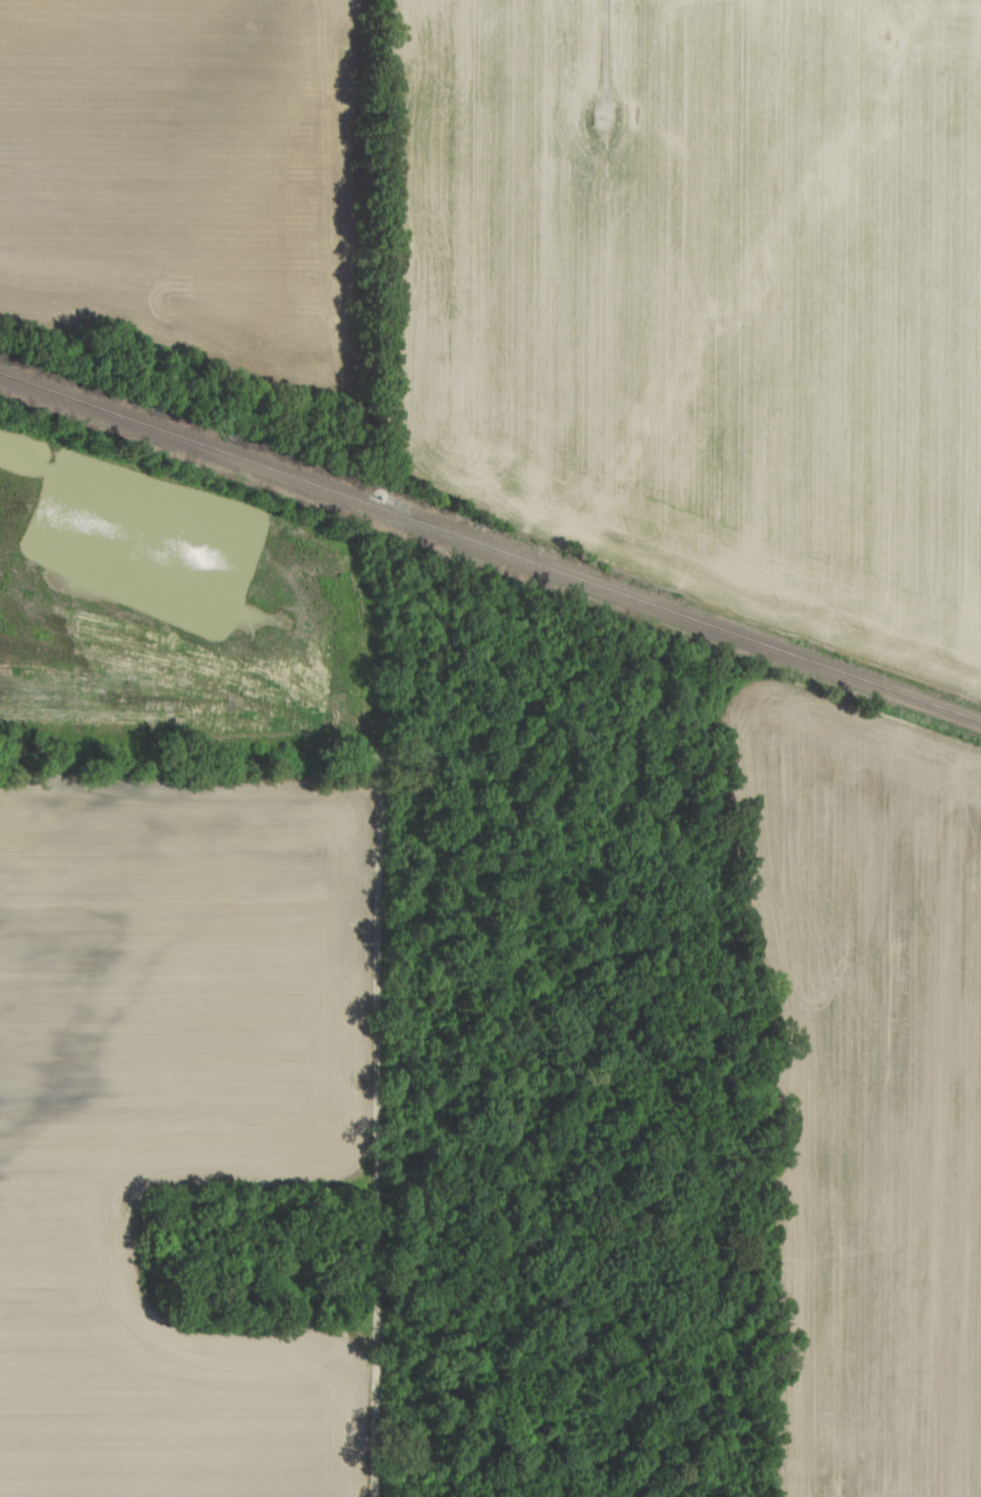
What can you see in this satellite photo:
road: (608, 60)
railway: (490, 546)

